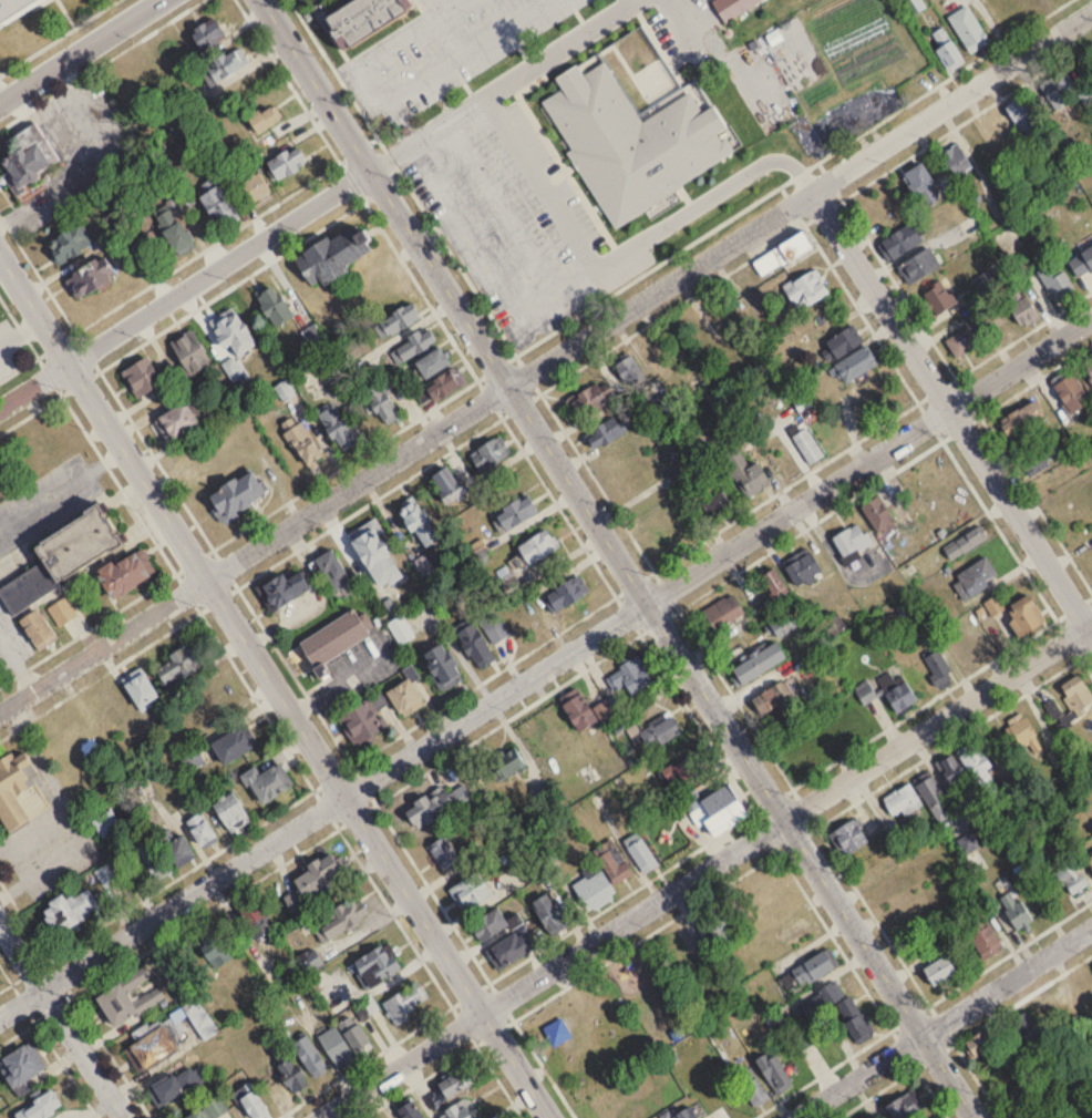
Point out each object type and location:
road: (674, 3)
road: (440, 6)
building: (731, 6)
building: (16, 9)
building: (367, 13)
building: (968, 27)
building: (206, 34)
parking lot: (437, 48)
road: (78, 50)
building: (947, 50)
building: (1058, 90)
road: (2, 94)
road: (399, 100)
building: (1017, 109)
building: (262, 121)
building: (1000, 130)
road: (429, 134)
building: (27, 157)
parking lot: (584, 160)
building: (960, 162)
building: (286, 163)
road: (402, 176)
road: (792, 176)
building: (920, 180)
building: (253, 188)
building: (216, 206)
road: (369, 207)
road: (564, 217)
building: (971, 224)
road: (516, 226)
road: (796, 227)
building: (175, 236)
building: (900, 238)
building: (69, 244)
building: (782, 254)
building: (332, 256)
building: (918, 263)
building: (1082, 264)
building: (89, 277)
building: (1057, 283)
road: (148, 284)
building: (806, 285)
road: (185, 287)
road: (898, 287)
building: (939, 298)
building: (274, 306)
building: (1022, 310)
road: (861, 311)
road: (182, 316)
building: (396, 321)
road: (20, 332)
building: (230, 332)
building: (842, 339)
building: (964, 342)
building: (413, 345)
building: (188, 353)
building: (856, 360)
road: (546, 361)
building: (431, 363)
building: (1089, 369)
building: (236, 371)
building: (631, 373)
building: (142, 378)
building: (440, 387)
building: (1071, 393)
building: (586, 402)
building: (381, 404)
road: (951, 411)
building: (1021, 419)
building: (175, 421)
building: (336, 422)
building: (604, 433)
building: (301, 439)
building: (807, 447)
building: (487, 457)
building: (1042, 457)
building: (744, 474)
road: (885, 475)
building: (447, 484)
road: (1023, 484)
road: (378, 495)
building: (235, 496)
building: (715, 506)
building: (640, 509)
road: (987, 509)
building: (514, 514)
building: (418, 517)
building: (878, 517)
road: (258, 519)
building: (852, 541)
road: (155, 543)
building: (537, 546)
building: (374, 551)
building: (62, 557)
road: (619, 558)
building: (423, 567)
building: (803, 571)
building: (124, 573)
building: (333, 575)
building: (977, 576)
building: (776, 588)
building: (284, 589)
building: (564, 595)
road: (1074, 606)
building: (62, 612)
building: (723, 614)
building: (1023, 616)
building: (493, 626)
building: (782, 626)
building: (834, 626)
building: (38, 627)
building: (401, 630)
road: (639, 633)
building: (474, 638)
road: (545, 639)
building: (332, 640)
road: (1071, 644)
building: (960, 647)
building: (442, 661)
building: (182, 663)
building: (758, 665)
road: (545, 666)
building: (937, 668)
building: (631, 674)
road: (295, 675)
building: (142, 686)
road: (275, 686)
building: (886, 693)
building: (403, 699)
building: (771, 699)
building: (1074, 700)
building: (205, 701)
road: (924, 702)
building: (578, 707)
building: (1052, 710)
building: (363, 716)
road: (488, 730)
building: (659, 732)
road: (957, 735)
road: (759, 736)
building: (231, 746)
building: (1058, 757)
building: (505, 765)
building: (950, 770)
building: (681, 771)
building: (980, 771)
building: (268, 778)
building: (18, 792)
building: (934, 799)
building: (902, 801)
building: (230, 808)
building: (429, 808)
building: (720, 811)
building: (200, 831)
building: (847, 838)
building: (449, 845)
building: (179, 852)
building: (641, 855)
building: (1090, 857)
road: (755, 863)
building: (614, 866)
road: (703, 871)
building: (106, 874)
building: (1071, 879)
building: (315, 882)
building: (595, 886)
building: (471, 889)
building: (1014, 904)
building: (69, 912)
road: (205, 912)
building: (546, 912)
building: (256, 921)
building: (340, 921)
building: (490, 922)
building: (718, 933)
building: (982, 935)
road: (37, 938)
building: (508, 946)
building: (214, 947)
road: (533, 953)
road: (991, 963)
building: (309, 964)
building: (374, 966)
building: (938, 972)
building: (806, 973)
building: (127, 999)
building: (822, 999)
building: (404, 1003)
road: (928, 1003)
road: (61, 1019)
building: (853, 1019)
road: (87, 1020)
road: (942, 1023)
building: (1026, 1029)
park: (618, 1033)
building: (353, 1034)
building: (166, 1037)
road: (48, 1042)
building: (981, 1044)
building: (336, 1048)
building: (309, 1056)
road: (965, 1060)
road: (362, 1061)
road: (487, 1061)
building: (17, 1068)
road: (437, 1068)
building: (773, 1073)
building: (290, 1075)
building: (181, 1085)
building: (446, 1089)
road: (876, 1093)
road: (931, 1093)
building: (251, 1102)
building: (41, 1107)
building: (216, 1107)
building: (460, 1111)

